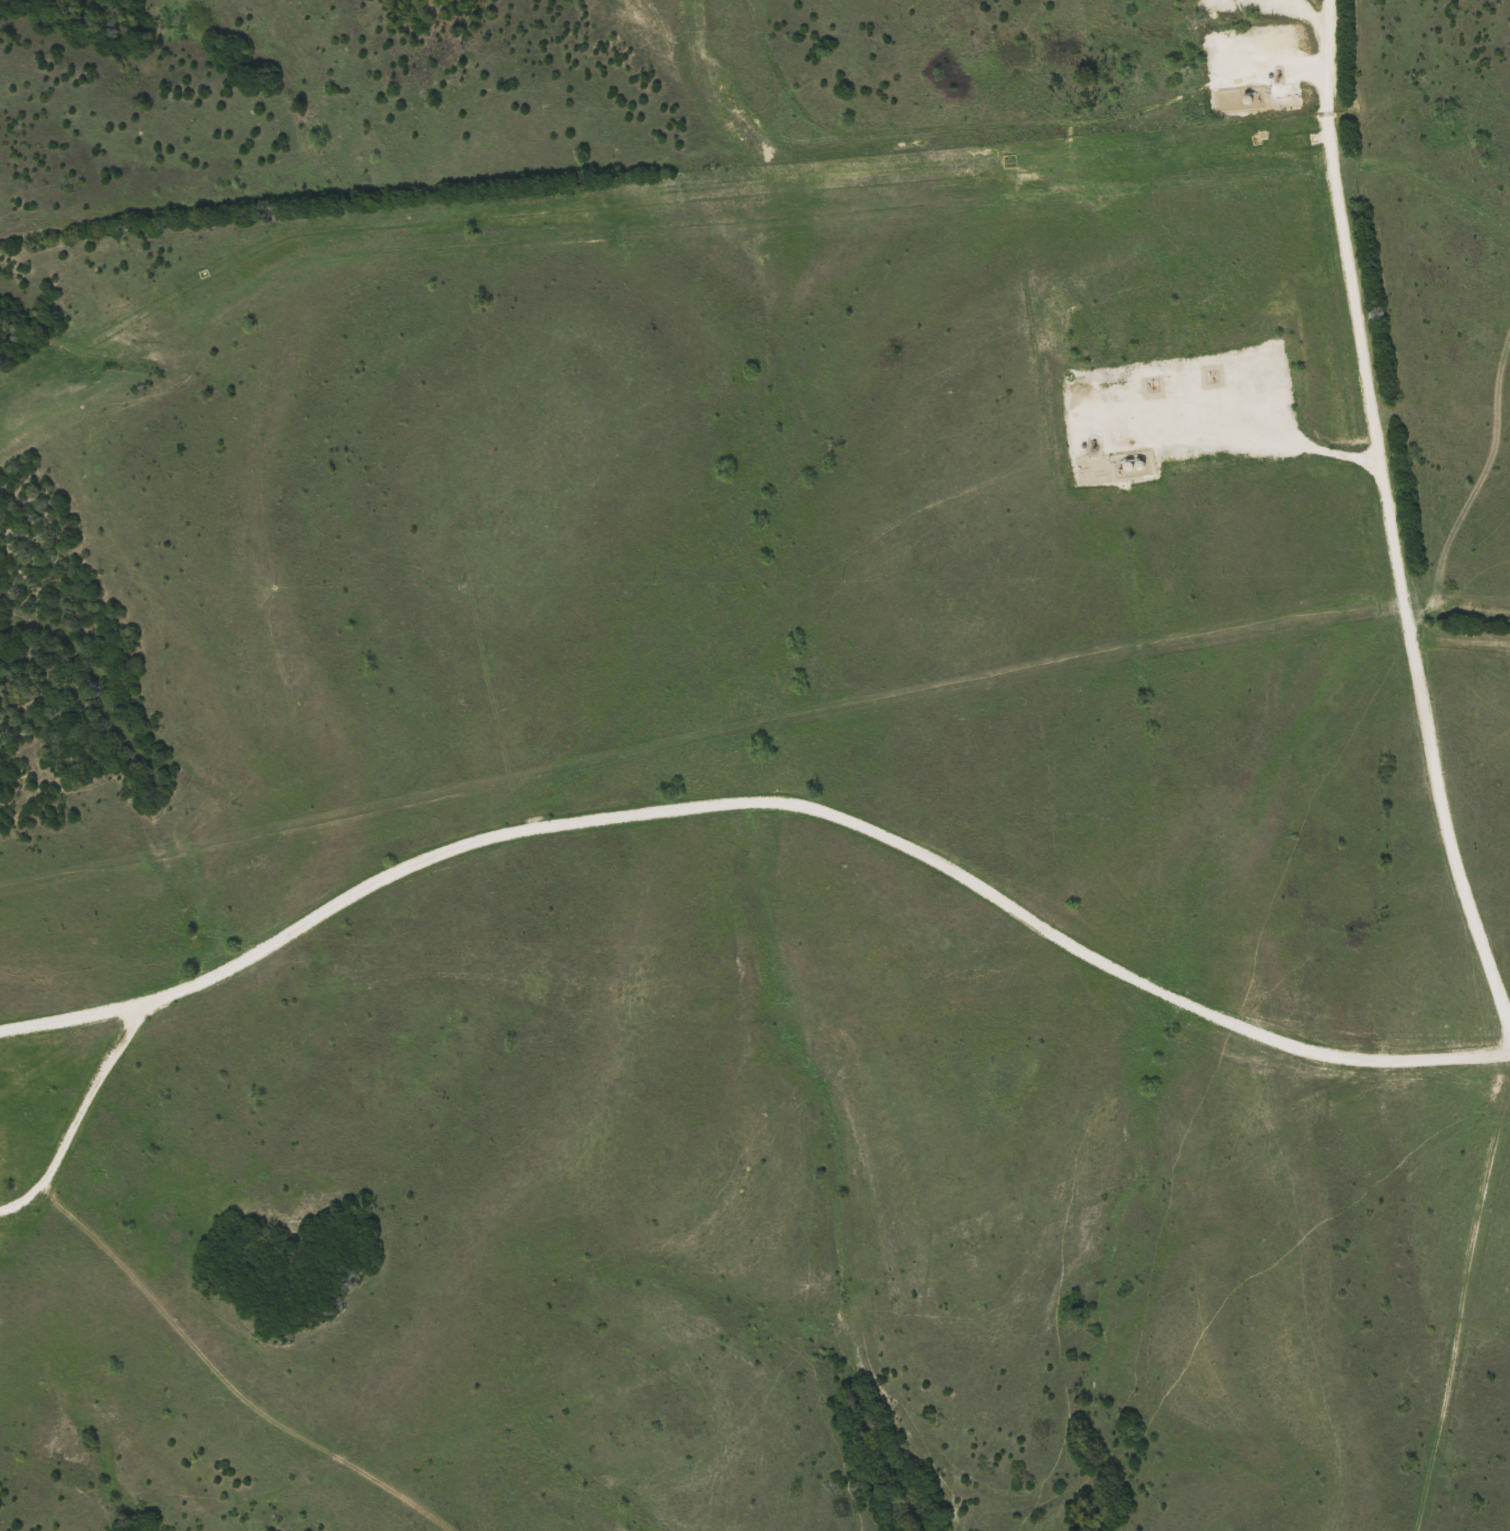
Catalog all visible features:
road: (1310, 7)
road: (1228, 423)
road: (1388, 519)
road: (761, 799)
road: (77, 1118)

